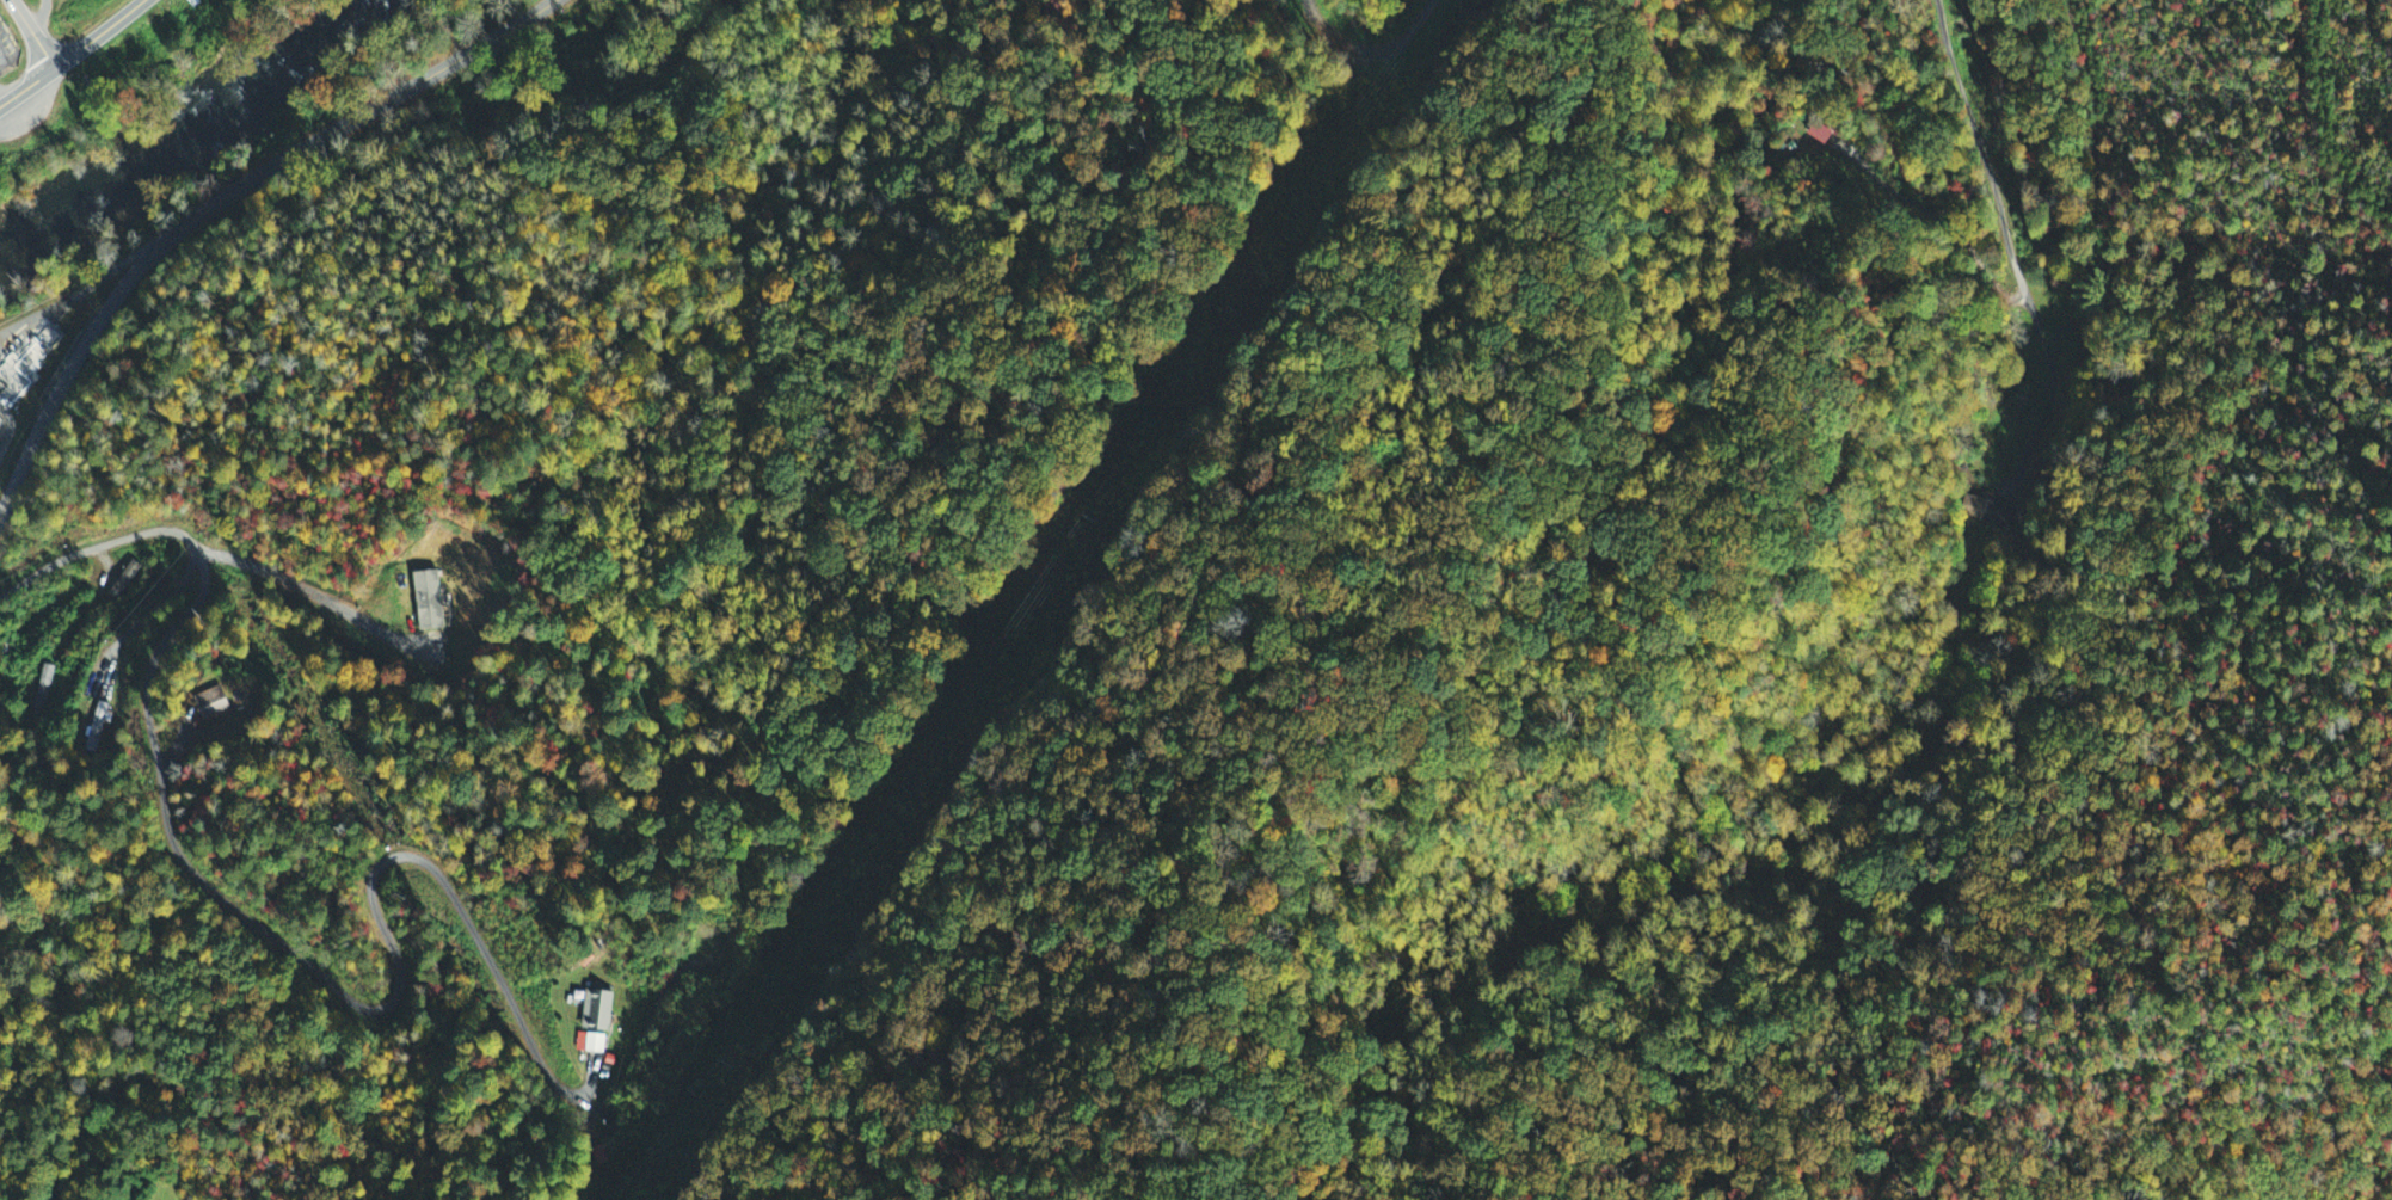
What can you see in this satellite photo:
road: (29, 36)
road: (70, 54)
building: (1825, 130)
river: (176, 131)
road: (1992, 164)
road: (217, 201)
road: (142, 250)
road: (61, 297)
power tower: (1229, 307)
wastewater plant: (47, 330)
building: (1990, 513)
power tower: (1082, 524)
building: (123, 578)
building: (431, 602)
building: (5, 646)
building: (42, 690)
building: (209, 701)
building: (97, 724)
power tower: (905, 792)
road: (257, 928)
building: (597, 1008)
building: (591, 1045)
power tower: (728, 1060)

